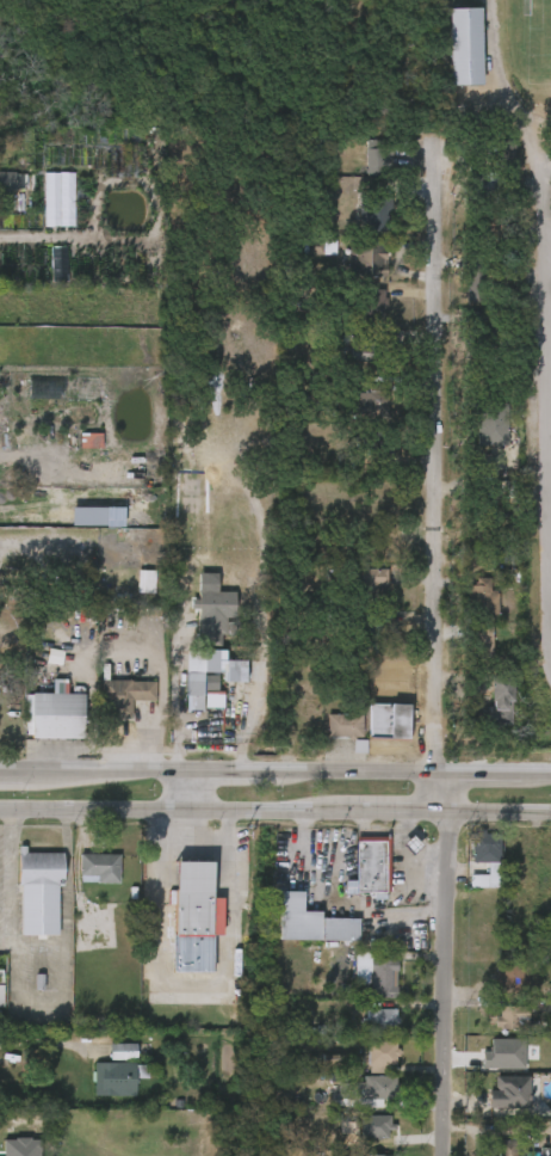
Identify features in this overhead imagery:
park: (537, 42)
building: (464, 47)
park: (495, 66)
building: (506, 154)
building: (73, 158)
building: (379, 158)
road: (546, 171)
building: (7, 180)
building: (483, 189)
road: (544, 198)
building: (58, 201)
building: (376, 215)
building: (488, 229)
road: (44, 239)
building: (367, 262)
building: (369, 296)
building: (481, 338)
building: (504, 338)
building: (366, 353)
building: (45, 388)
building: (370, 407)
building: (490, 425)
building: (89, 442)
building: (86, 478)
building: (111, 478)
building: (506, 487)
road: (41, 547)
building: (357, 596)
building: (130, 597)
building: (481, 599)
building: (468, 613)
building: (209, 622)
building: (478, 642)
road: (431, 654)
building: (466, 657)
building: (215, 675)
building: (501, 694)
road: (181, 695)
building: (120, 701)
building: (54, 717)
building: (482, 720)
building: (386, 722)
building: (342, 726)
building: (372, 736)
building: (328, 740)
road: (274, 774)
road: (179, 794)
road: (275, 812)
road: (196, 831)
road: (163, 832)
road: (180, 851)
building: (487, 854)
building: (395, 860)
building: (369, 866)
building: (98, 867)
road: (8, 868)
building: (470, 873)
building: (85, 883)
building: (354, 883)
building: (37, 893)
building: (192, 897)
building: (309, 921)
building: (296, 937)
building: (0, 976)
building: (510, 976)
building: (382, 978)
building: (361, 990)
building: (495, 991)
road: (175, 1000)
building: (509, 1017)
building: (377, 1020)
building: (495, 1032)
building: (366, 1034)
road: (39, 1041)
building: (379, 1056)
building: (508, 1056)
building: (106, 1066)
building: (366, 1068)
building: (380, 1087)
building: (101, 1093)
building: (507, 1093)
building: (494, 1107)
building: (376, 1123)
building: (359, 1142)
building: (509, 1148)
building: (487, 1155)

